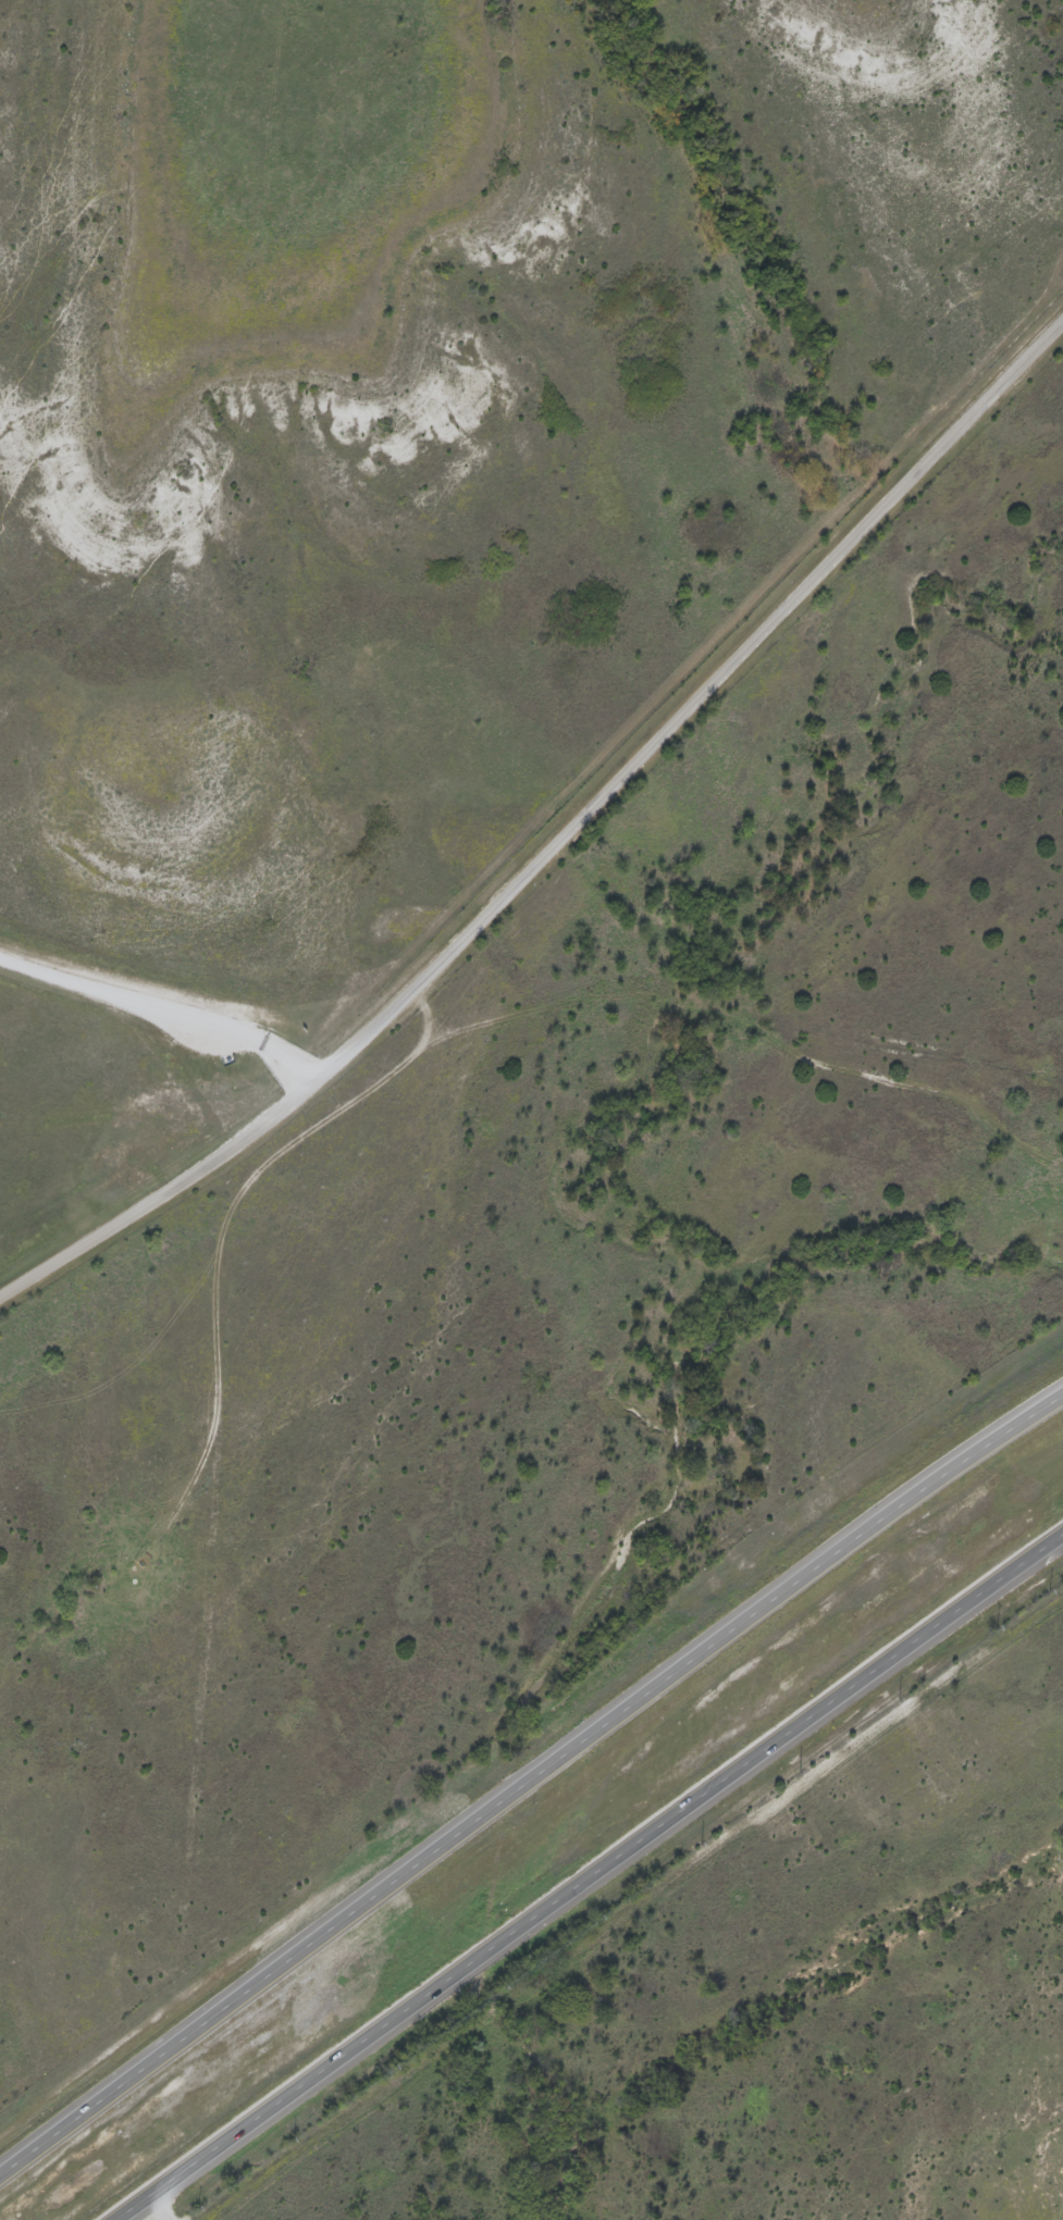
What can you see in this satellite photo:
road: (558, 832)
road: (162, 1013)
road: (255, 1165)
road: (173, 1491)
road: (207, 1501)
road: (529, 1778)
road: (588, 1875)
road: (158, 2206)

